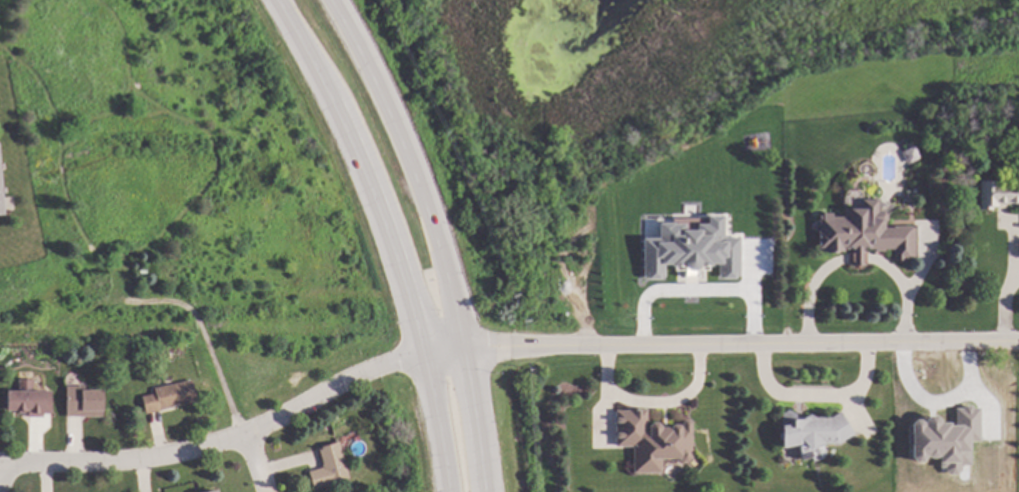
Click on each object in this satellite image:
building: (907, 155)
building: (2, 190)
building: (997, 194)
building: (863, 233)
road: (386, 235)
road: (432, 236)
building: (687, 250)
road: (856, 261)
building: (121, 276)
road: (1006, 288)
road: (671, 294)
road: (904, 295)
road: (807, 296)
road: (751, 297)
road: (738, 350)
park: (271, 367)
building: (170, 396)
road: (814, 397)
building: (85, 401)
building: (28, 402)
road: (650, 403)
building: (811, 430)
road: (236, 434)
building: (650, 439)
building: (942, 439)
road: (247, 462)
building: (330, 466)
building: (212, 490)

